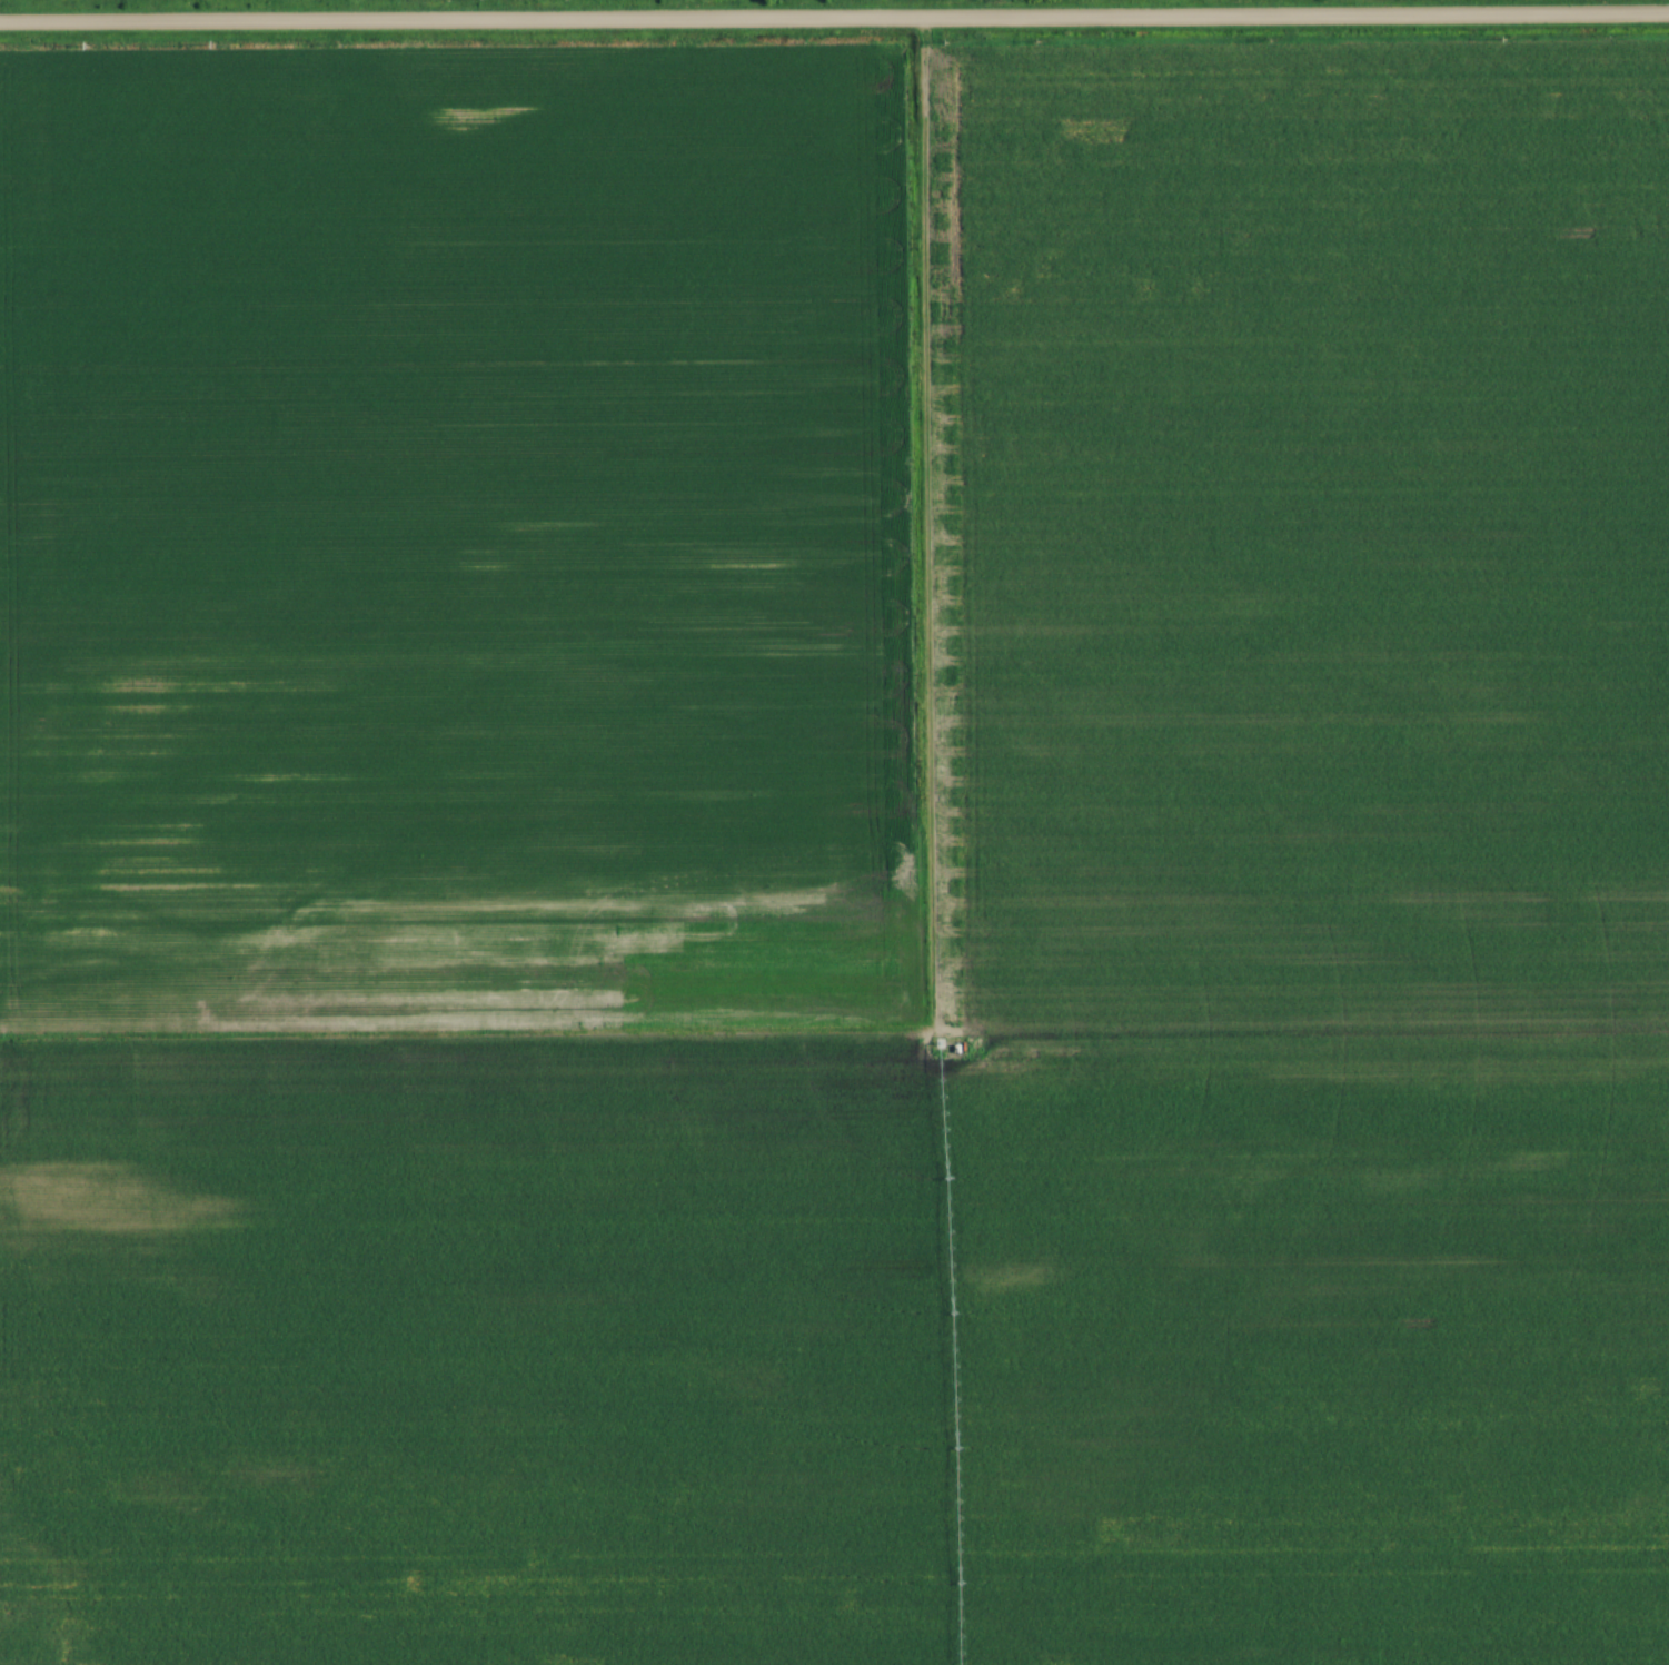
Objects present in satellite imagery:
road: (834, 20)

